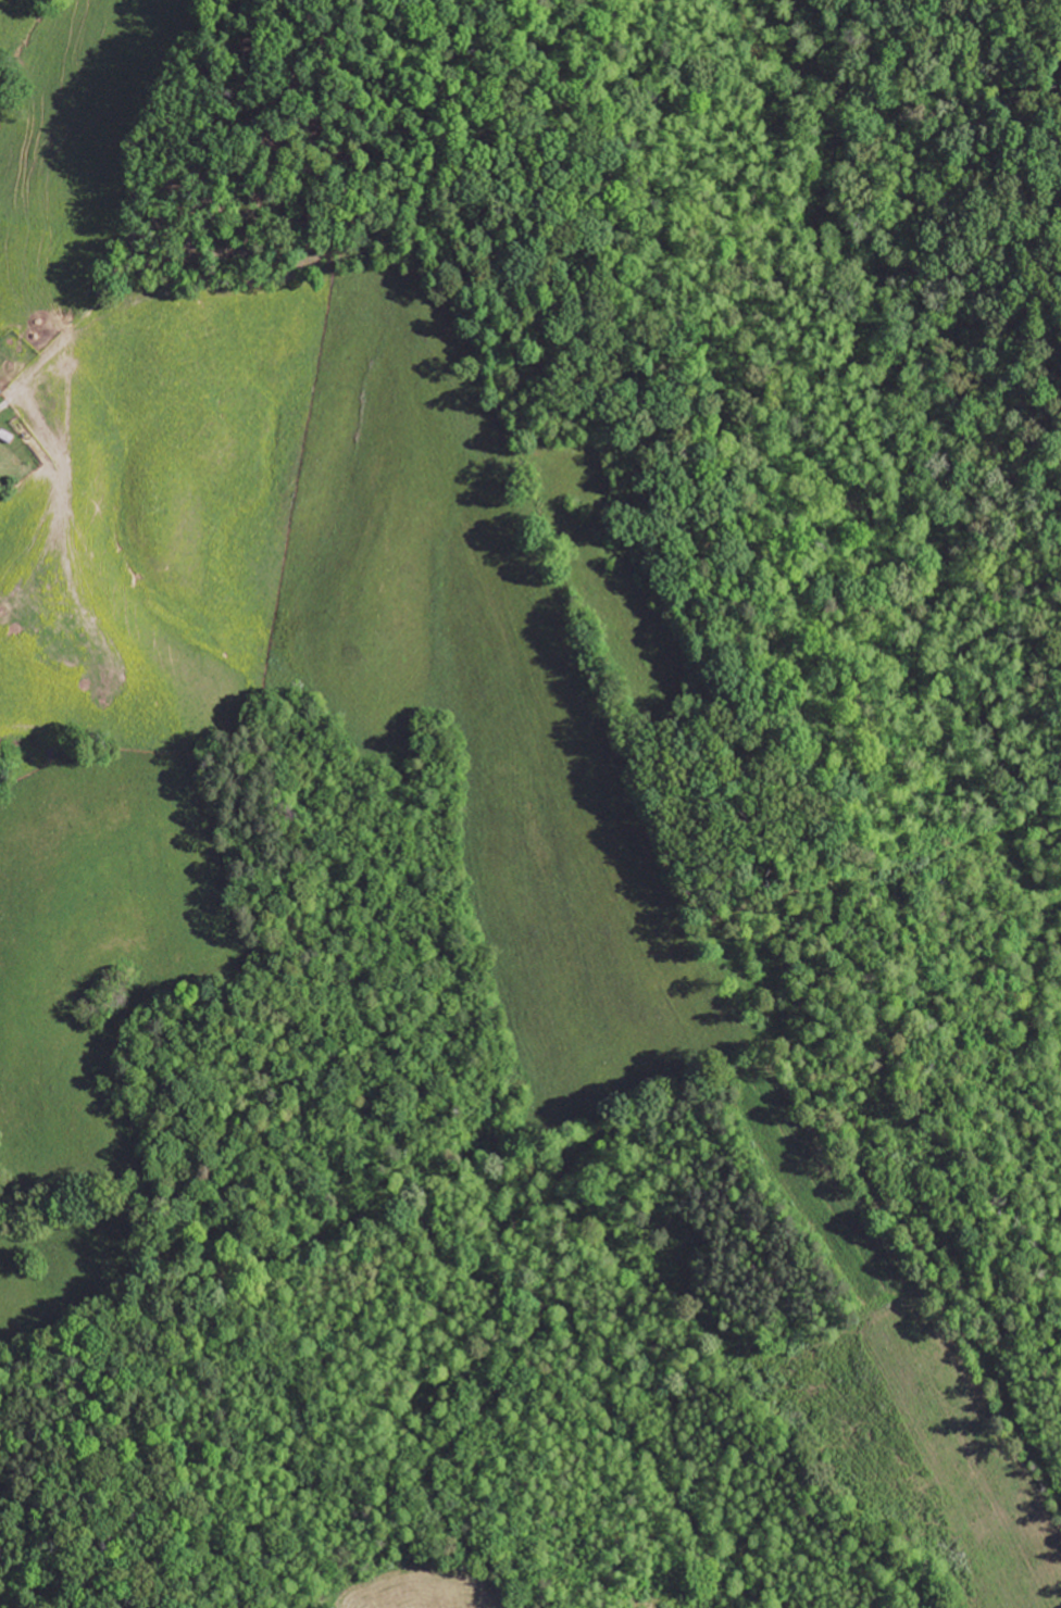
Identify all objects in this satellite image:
road: (16, 389)
building: (0, 397)

